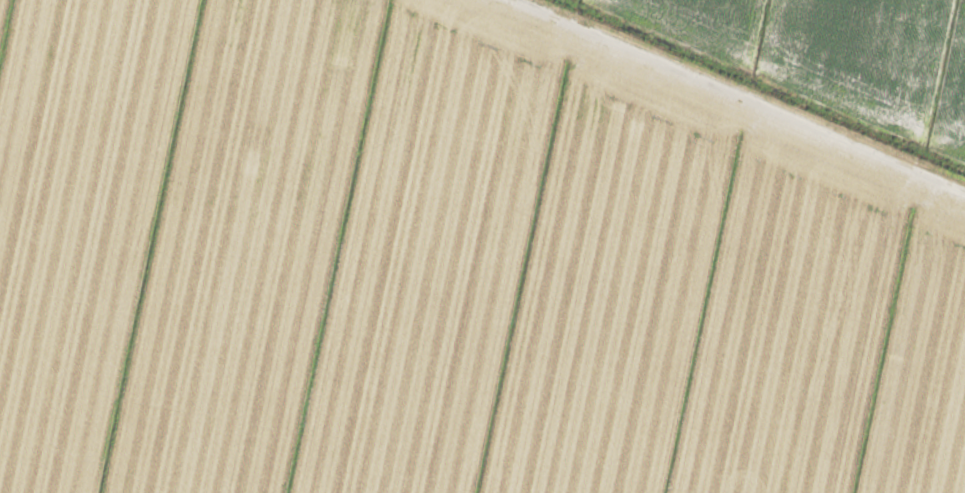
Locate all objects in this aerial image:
road: (744, 92)

